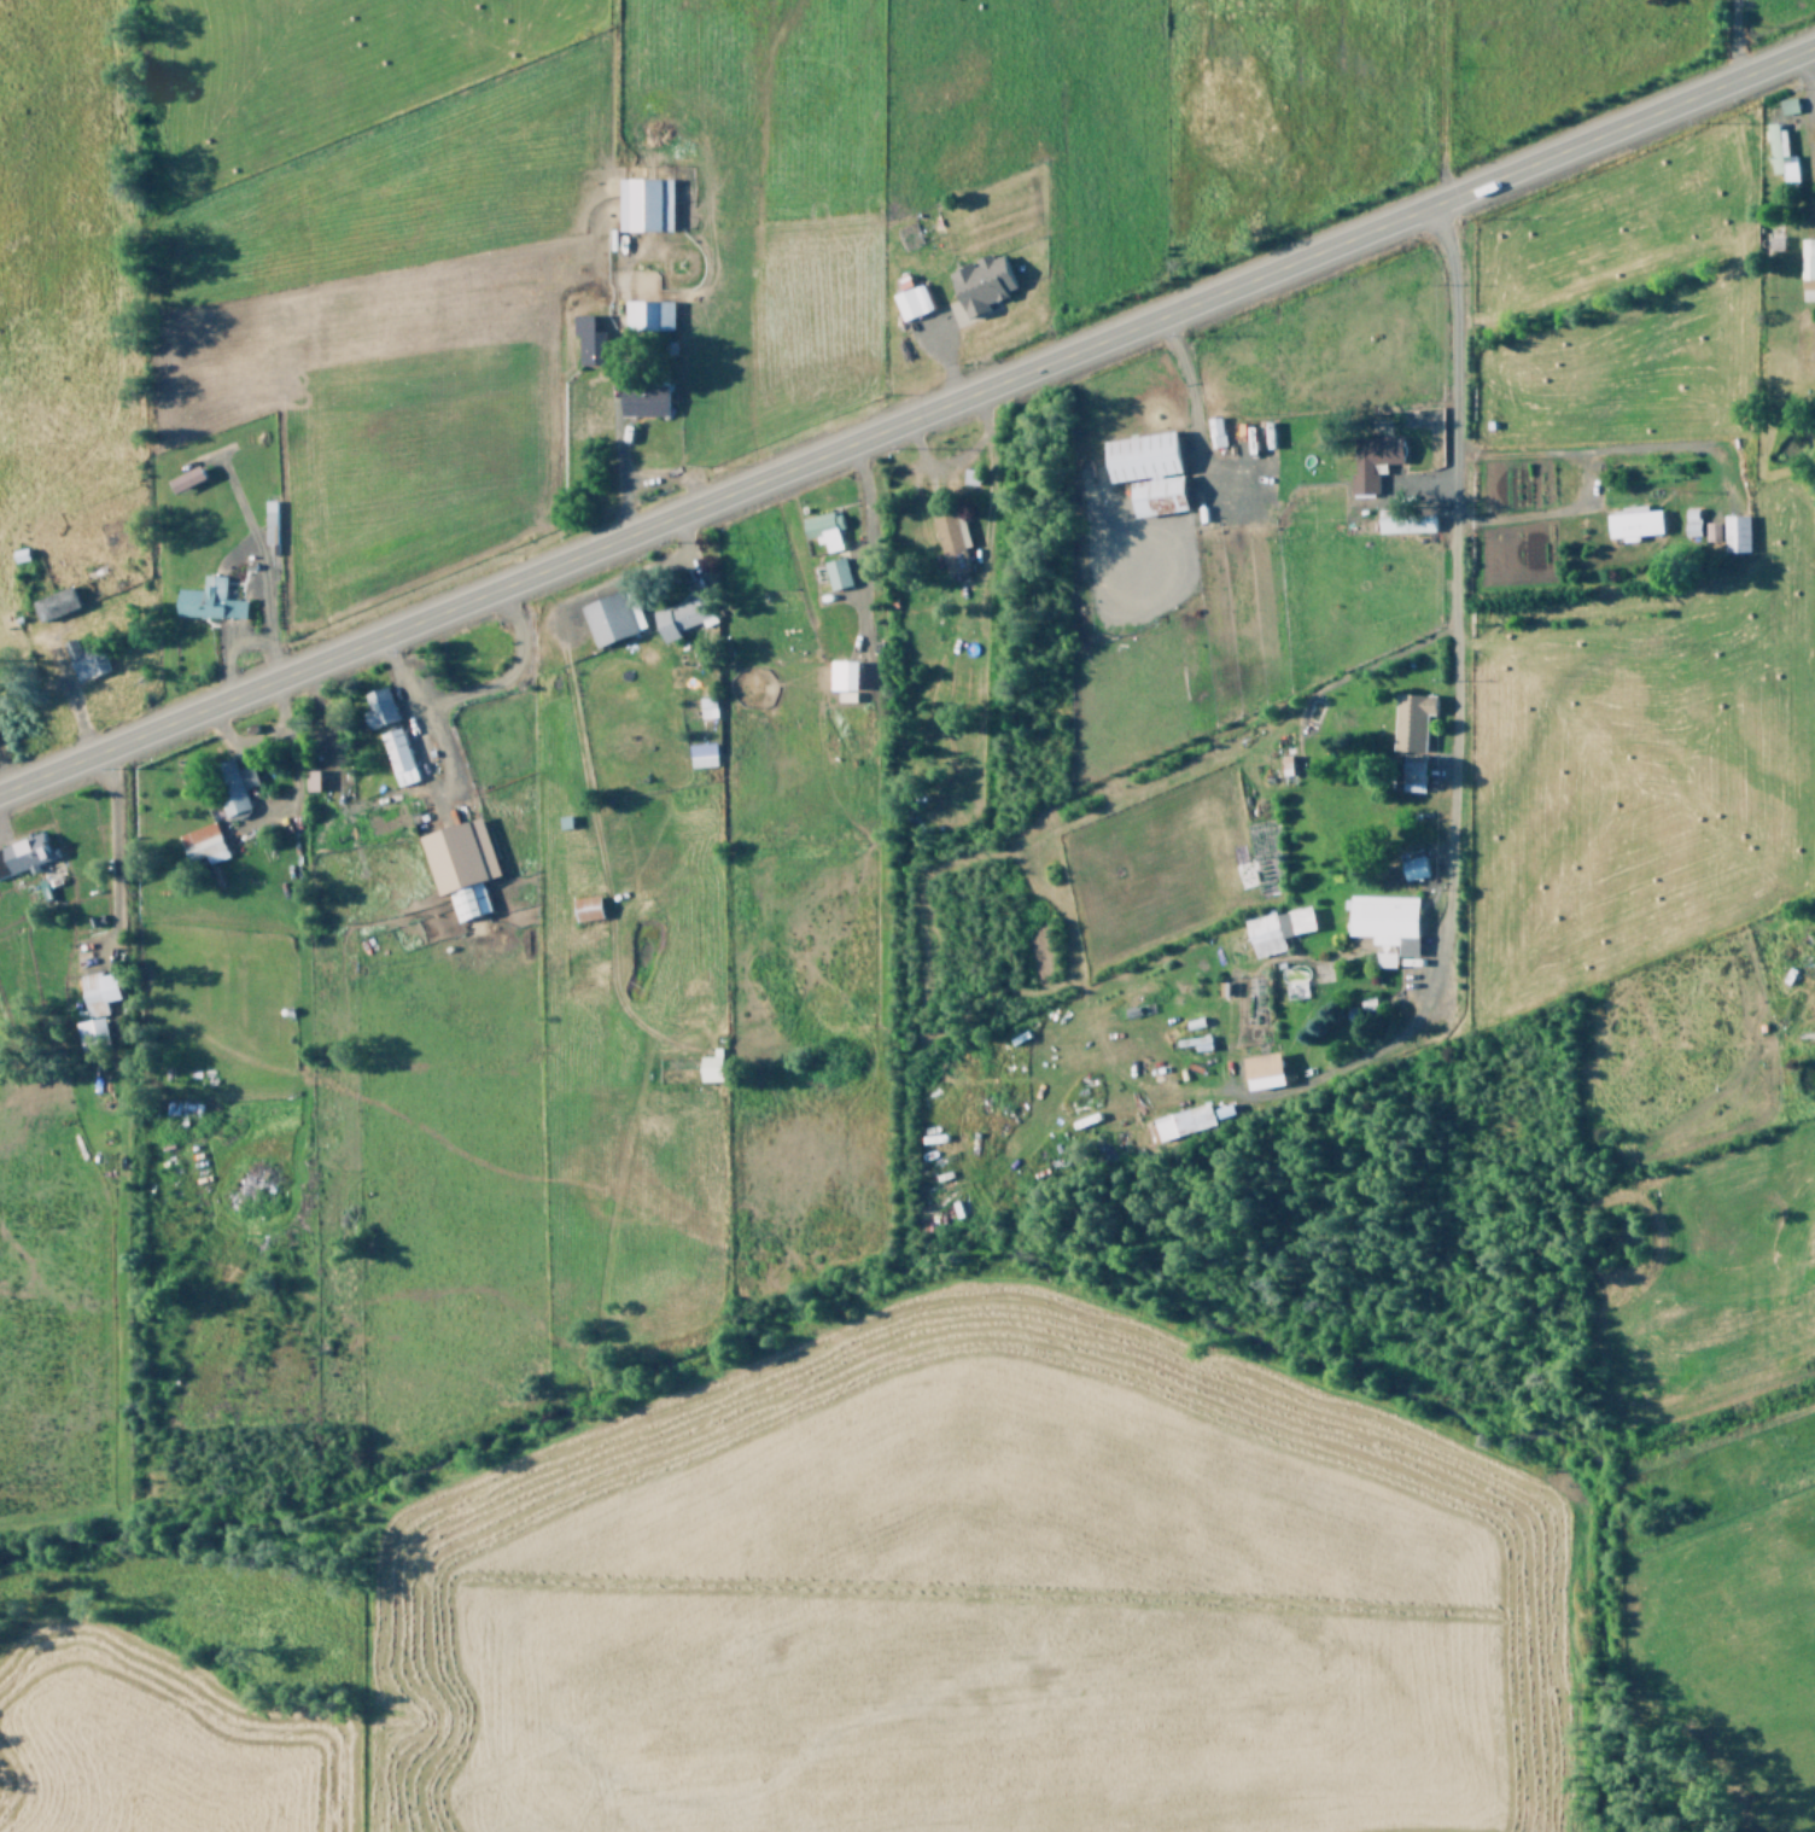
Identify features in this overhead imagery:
building: (1786, 105)
building: (1778, 152)
building: (642, 203)
building: (1807, 258)
building: (977, 282)
building: (909, 301)
building: (644, 313)
building: (585, 340)
building: (641, 399)
road: (907, 416)
building: (1214, 431)
building: (1371, 459)
building: (1145, 471)
building: (182, 478)
building: (1403, 520)
building: (1632, 521)
building: (822, 527)
building: (949, 535)
road: (1451, 560)
building: (835, 572)
building: (205, 600)
building: (52, 603)
building: (606, 617)
building: (678, 617)
building: (82, 659)
building: (841, 673)
building: (375, 706)
building: (705, 706)
building: (1408, 719)
building: (699, 754)
building: (395, 755)
building: (1411, 771)
building: (309, 778)
building: (232, 786)
building: (199, 842)
building: (23, 853)
building: (457, 864)
building: (1411, 864)
building: (584, 906)
building: (1383, 924)
building: (1276, 928)
building: (93, 1005)
building: (1260, 1069)
building: (1180, 1120)

